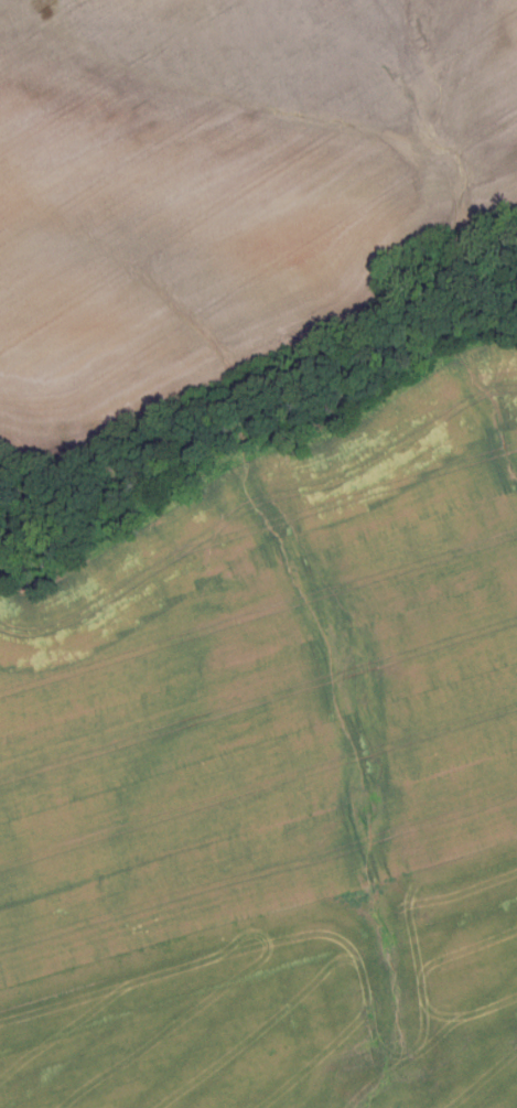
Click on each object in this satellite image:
crop: (222, 184)
crop: (277, 777)

